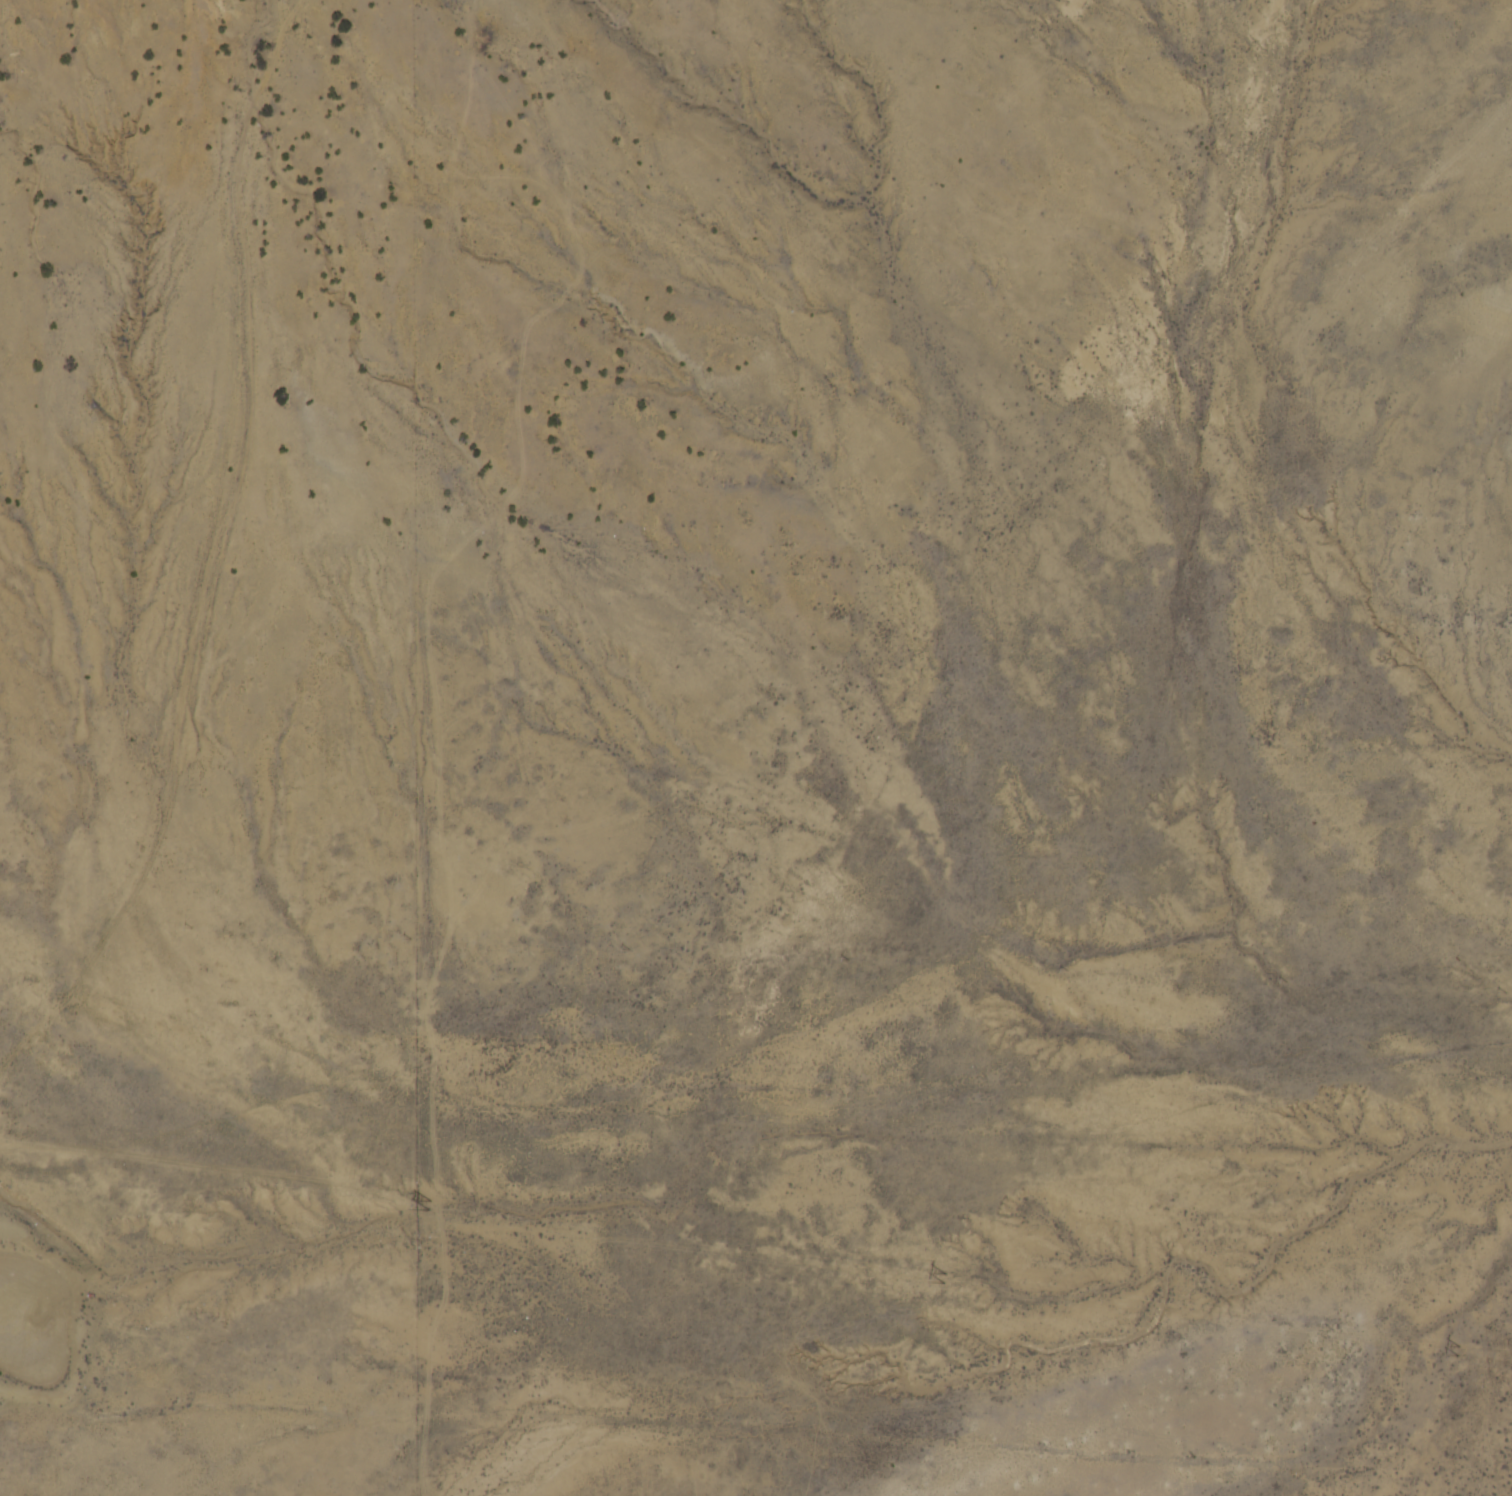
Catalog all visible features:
power tower: (429, 1207)
power tower: (944, 1280)
power tower: (1458, 1352)

